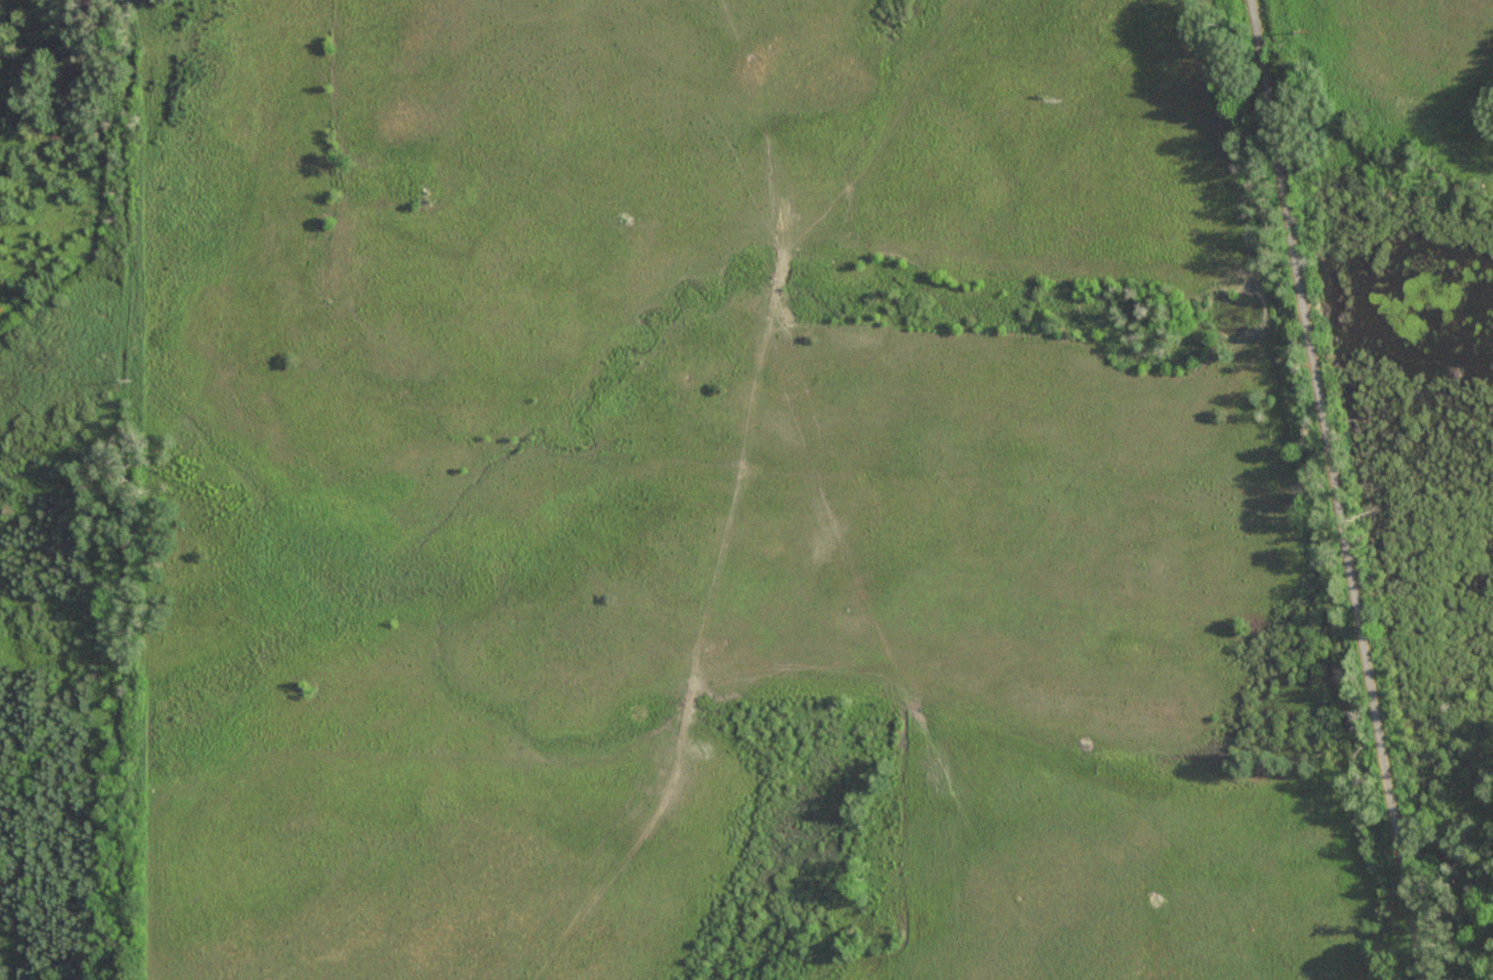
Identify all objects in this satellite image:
road: (1340, 489)

